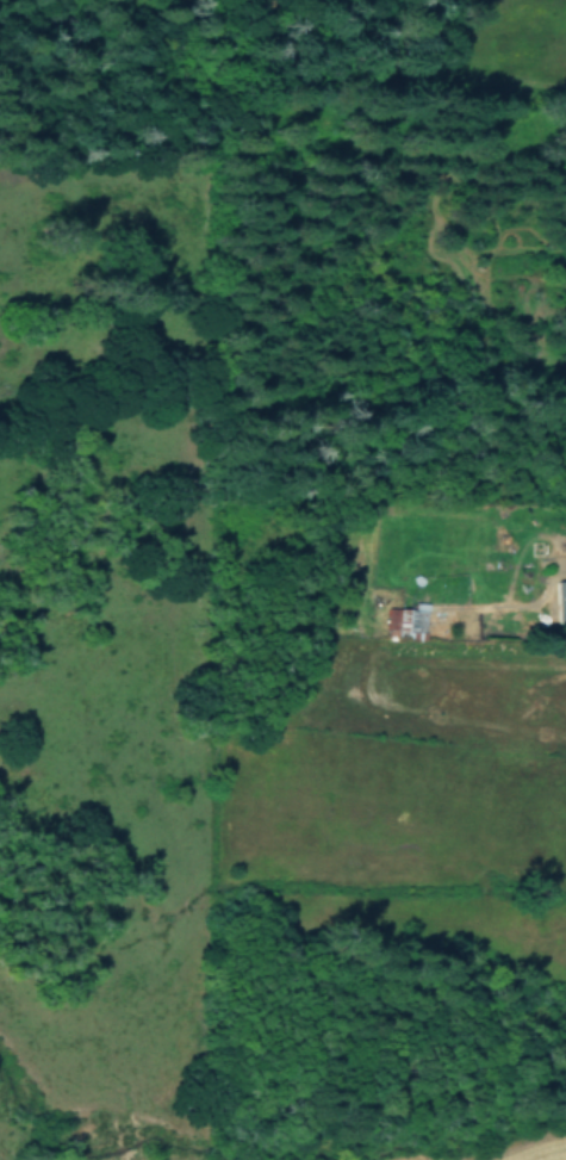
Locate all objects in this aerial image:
building: (558, 594)
building: (409, 621)

